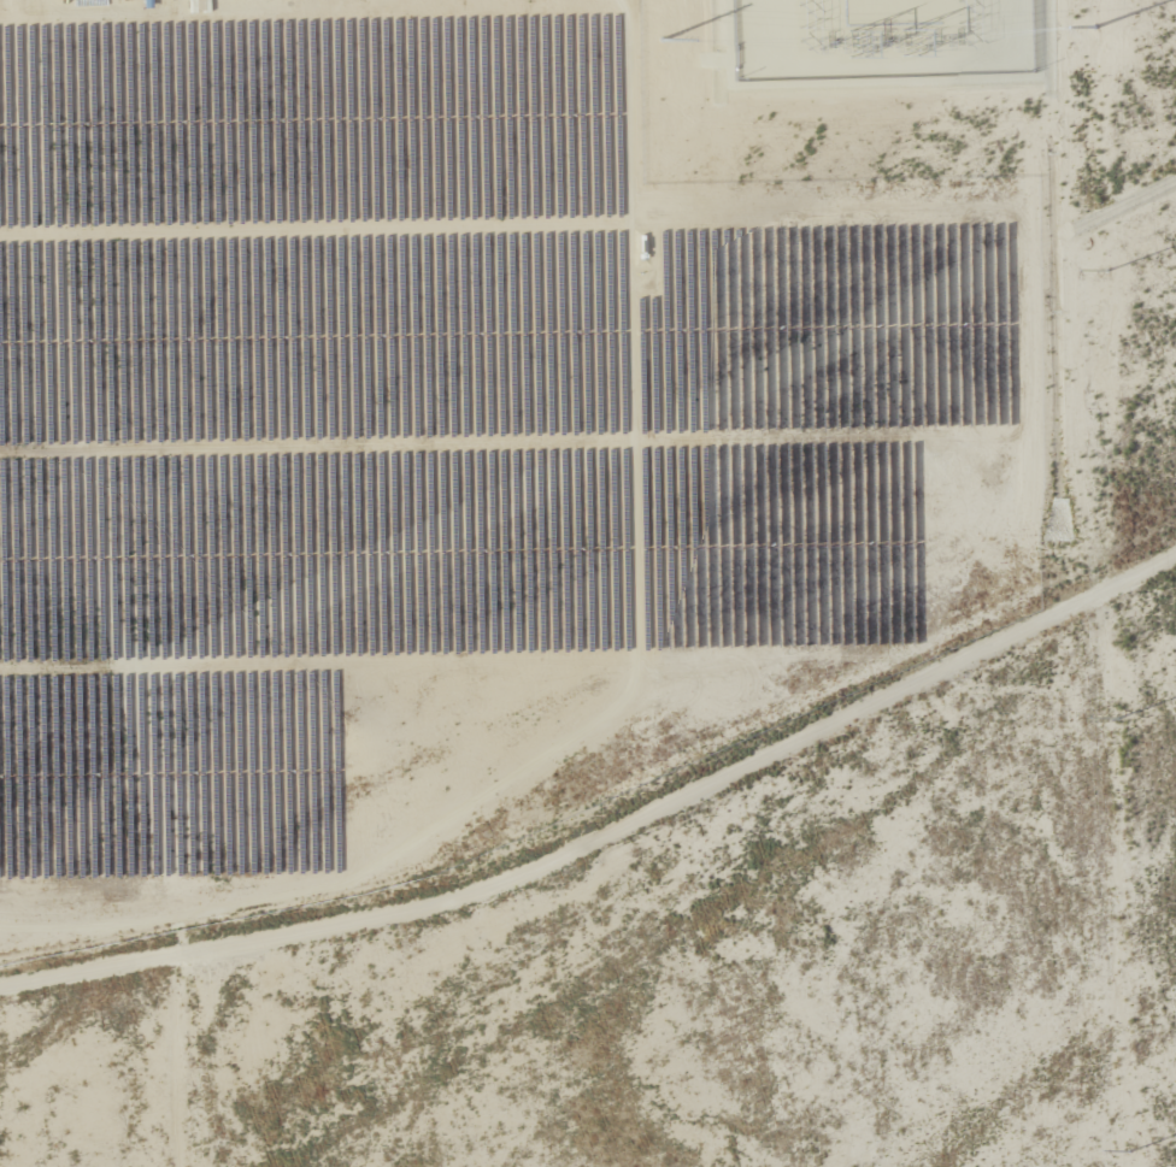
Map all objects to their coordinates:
power tower: (1106, 271)
power tower: (1118, 719)
power tower: (1129, 1151)

